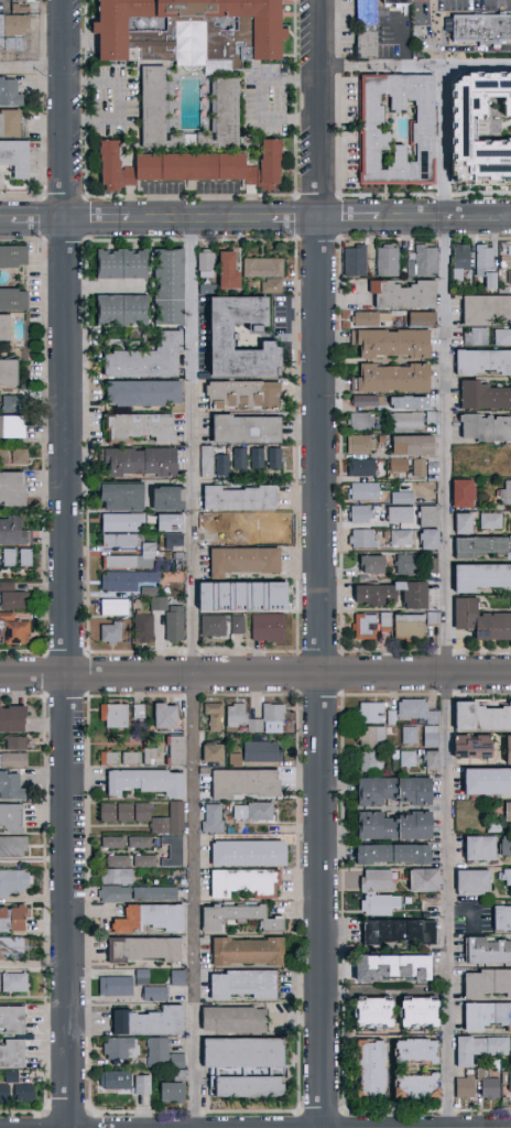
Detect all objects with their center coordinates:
building: (29, 2)
building: (401, 4)
building: (17, 6)
building: (17, 28)
building: (481, 29)
building: (369, 30)
building: (183, 31)
building: (15, 46)
road: (446, 51)
road: (415, 67)
road: (34, 72)
building: (7, 91)
road: (260, 98)
road: (123, 101)
building: (157, 108)
building: (7, 122)
building: (482, 129)
building: (424, 132)
building: (15, 159)
building: (194, 167)
road: (255, 220)
building: (510, 251)
building: (10, 256)
building: (358, 262)
building: (390, 262)
building: (463, 262)
building: (116, 263)
building: (204, 263)
building: (425, 263)
building: (507, 263)
building: (260, 265)
building: (488, 267)
building: (224, 270)
building: (508, 278)
building: (269, 284)
building: (164, 286)
building: (505, 291)
building: (406, 296)
building: (10, 299)
building: (116, 308)
building: (487, 311)
building: (371, 319)
building: (425, 321)
building: (1, 327)
building: (211, 332)
building: (479, 338)
building: (504, 338)
building: (395, 345)
building: (141, 358)
building: (483, 362)
building: (6, 372)
building: (395, 380)
building: (139, 392)
building: (485, 398)
building: (370, 402)
building: (406, 402)
building: (12, 403)
building: (436, 421)
building: (362, 423)
building: (410, 423)
building: (9, 425)
building: (137, 426)
building: (239, 429)
building: (487, 430)
building: (362, 445)
building: (416, 447)
building: (12, 455)
building: (236, 457)
building: (254, 457)
building: (271, 457)
building: (510, 459)
building: (135, 460)
building: (204, 460)
building: (219, 464)
building: (502, 468)
building: (365, 469)
building: (401, 469)
building: (9, 489)
building: (367, 492)
building: (505, 495)
building: (117, 496)
building: (466, 496)
building: (162, 498)
building: (233, 498)
building: (405, 499)
building: (363, 516)
building: (402, 517)
building: (431, 518)
building: (119, 521)
building: (163, 521)
building: (459, 522)
building: (493, 522)
building: (467, 525)
building: (209, 528)
building: (260, 528)
building: (12, 532)
building: (172, 539)
building: (404, 539)
building: (117, 540)
building: (365, 540)
building: (433, 541)
building: (483, 547)
building: (13, 556)
building: (132, 557)
building: (176, 558)
building: (238, 561)
road: (68, 563)
road: (320, 563)
building: (376, 566)
building: (412, 566)
building: (123, 579)
building: (173, 579)
building: (482, 579)
building: (11, 596)
building: (233, 596)
building: (395, 596)
road: (449, 597)
building: (111, 606)
building: (167, 617)
building: (482, 622)
building: (236, 623)
building: (388, 623)
building: (210, 625)
building: (141, 627)
building: (264, 627)
building: (367, 628)
building: (412, 629)
building: (109, 632)
road: (193, 673)
road: (254, 673)
building: (135, 709)
building: (418, 712)
building: (235, 713)
building: (110, 714)
building: (160, 714)
building: (372, 714)
building: (211, 715)
building: (10, 716)
building: (482, 717)
building: (267, 718)
building: (393, 718)
building: (394, 731)
building: (373, 736)
building: (411, 736)
building: (433, 737)
building: (12, 740)
building: (475, 747)
building: (172, 748)
building: (208, 750)
building: (260, 750)
building: (509, 750)
building: (146, 755)
building: (121, 756)
building: (11, 758)
building: (233, 758)
building: (410, 759)
building: (433, 759)
building: (372, 763)
building: (394, 766)
building: (141, 780)
building: (239, 781)
building: (488, 781)
building: (8, 783)
building: (395, 791)
building: (122, 810)
building: (250, 810)
building: (8, 813)
building: (509, 813)
building: (174, 816)
building: (209, 816)
building: (156, 823)
building: (396, 826)
building: (496, 827)
building: (110, 840)
building: (138, 840)
building: (11, 844)
building: (505, 846)
building: (171, 849)
building: (482, 849)
building: (243, 852)
building: (394, 855)
building: (115, 859)
building: (142, 859)
building: (113, 875)
building: (507, 877)
building: (12, 880)
building: (239, 880)
building: (425, 880)
building: (378, 881)
building: (475, 882)
building: (135, 892)
building: (381, 905)
building: (232, 915)
building: (10, 916)
building: (144, 916)
building: (502, 919)
building: (401, 933)
building: (11, 945)
building: (140, 947)
building: (242, 950)
building: (489, 952)
road: (34, 962)
building: (393, 968)
building: (139, 975)
building: (11, 980)
building: (238, 983)
building: (112, 984)
building: (488, 984)
road: (374, 989)
building: (152, 993)
building: (374, 1013)
building: (420, 1013)
building: (487, 1016)
building: (9, 1018)
building: (228, 1018)
building: (144, 1020)
building: (119, 1046)
building: (481, 1050)
building: (9, 1051)
building: (238, 1051)
building: (161, 1052)
building: (418, 1053)
building: (371, 1070)
building: (177, 1073)
building: (9, 1075)
building: (112, 1078)
building: (507, 1078)
building: (140, 1083)
building: (242, 1084)
building: (490, 1085)
building: (418, 1087)
building: (168, 1089)
building: (467, 1089)
building: (3, 1091)
building: (21, 1091)

